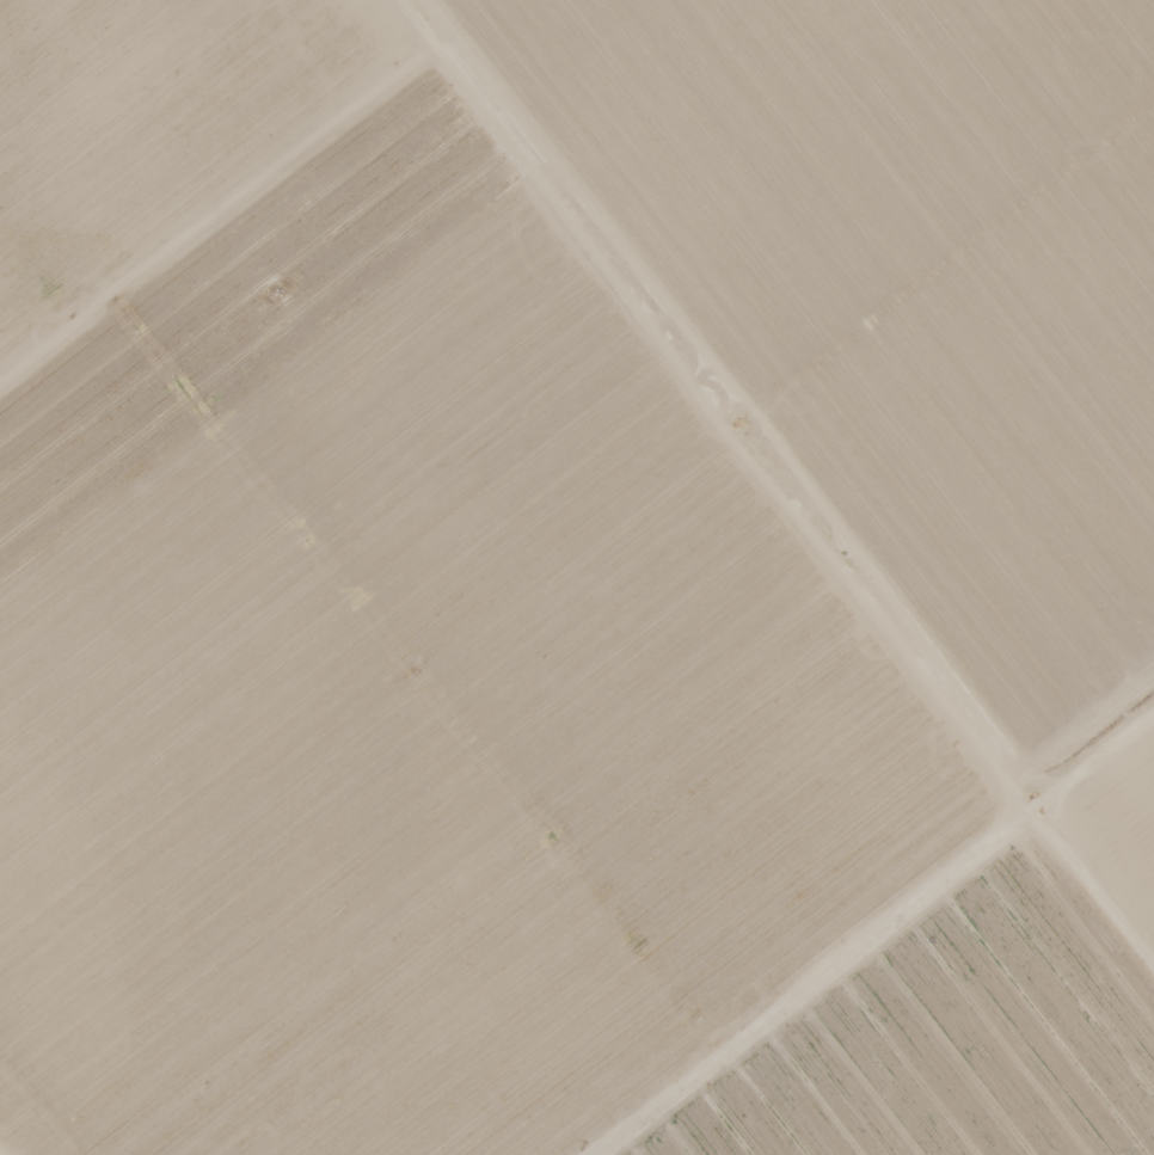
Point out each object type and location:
road: (872, 938)

